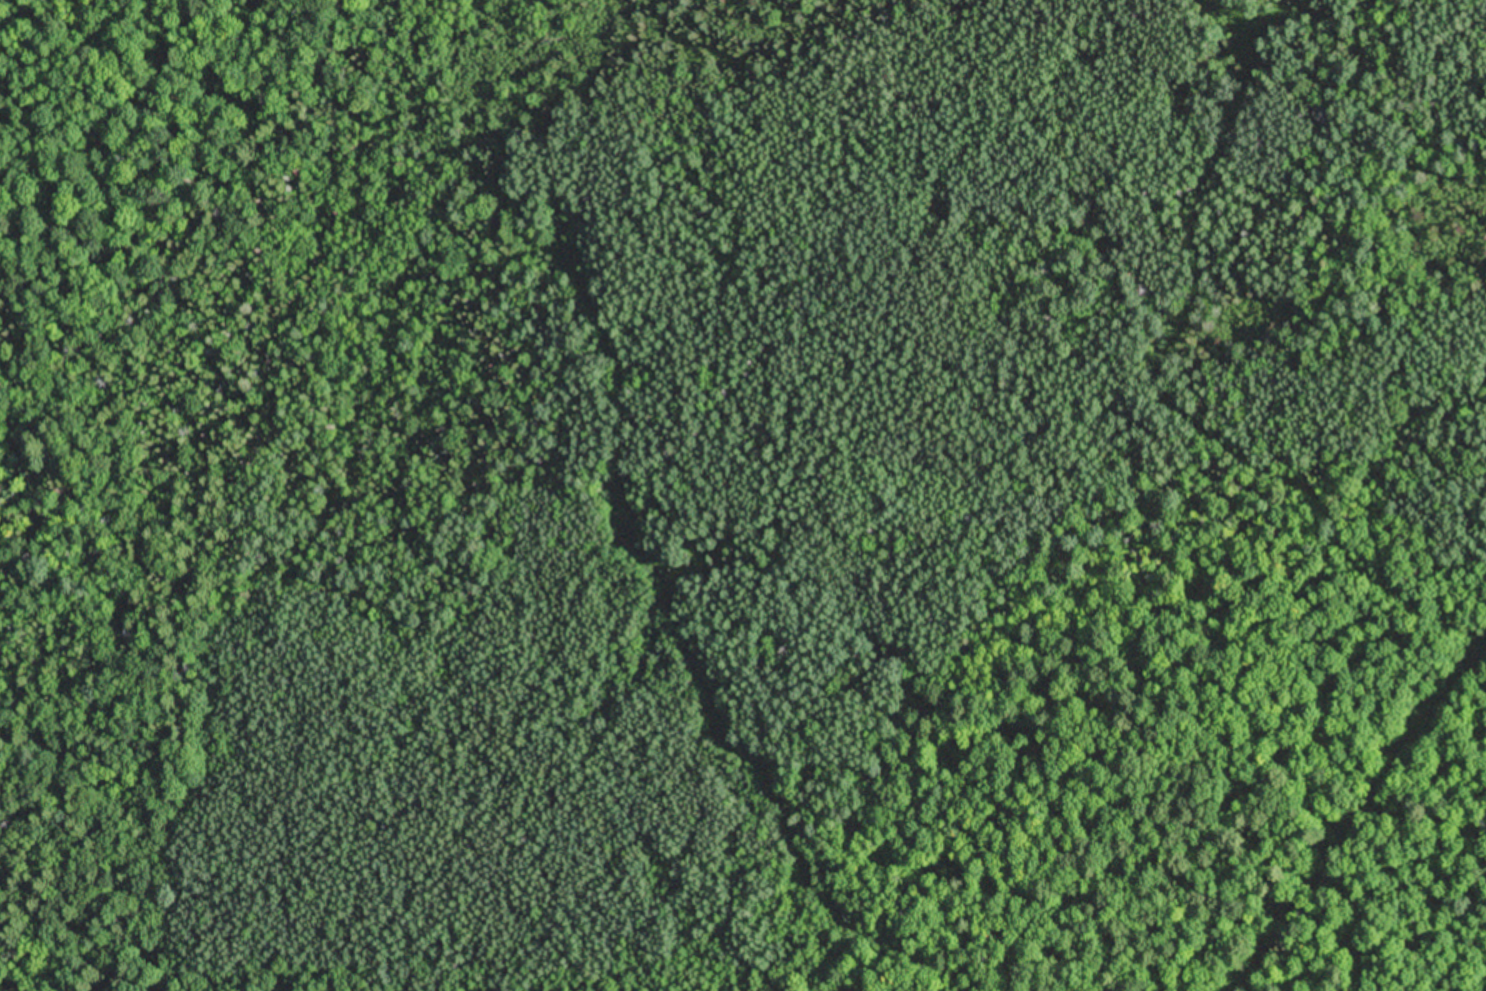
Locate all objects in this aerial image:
road: (1348, 824)

